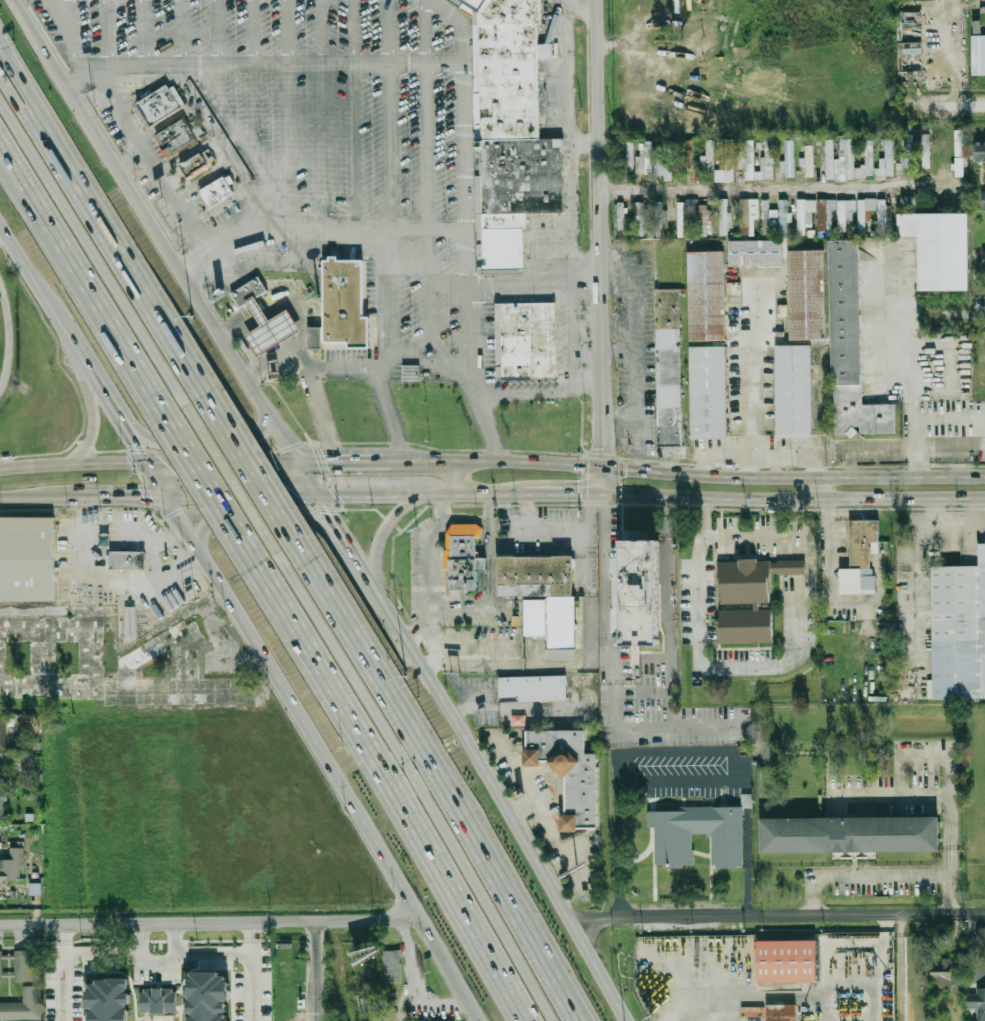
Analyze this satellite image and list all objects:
building: (924, 0)
building: (475, 4)
road: (577, 8)
building: (511, 12)
road: (33, 30)
road: (71, 32)
road: (144, 32)
road: (180, 32)
road: (108, 33)
road: (217, 51)
building: (978, 53)
road: (6, 55)
road: (6, 59)
road: (262, 63)
building: (509, 81)
road: (186, 89)
building: (160, 105)
road: (965, 105)
road: (254, 112)
road: (289, 112)
road: (323, 112)
road: (353, 113)
road: (225, 114)
building: (175, 137)
road: (586, 141)
building: (958, 143)
road: (219, 150)
building: (926, 151)
building: (980, 152)
building: (909, 155)
building: (630, 156)
building: (708, 157)
building: (890, 157)
building: (646, 159)
building: (788, 159)
building: (809, 160)
building: (689, 161)
building: (767, 161)
building: (846, 161)
building: (664, 163)
building: (726, 163)
building: (960, 165)
building: (193, 166)
road: (158, 173)
road: (427, 175)
road: (466, 175)
building: (522, 175)
road: (389, 178)
road: (237, 179)
road: (749, 190)
building: (216, 191)
road: (573, 191)
road: (588, 199)
building: (983, 200)
building: (915, 201)
building: (865, 210)
building: (825, 213)
building: (845, 213)
building: (660, 214)
building: (805, 214)
building: (620, 215)
building: (748, 215)
building: (882, 215)
building: (685, 216)
building: (724, 217)
building: (784, 217)
building: (640, 218)
building: (769, 218)
building: (704, 219)
road: (317, 225)
road: (599, 233)
road: (4, 239)
building: (503, 241)
road: (117, 246)
building: (939, 246)
building: (756, 251)
building: (984, 261)
road: (99, 262)
road: (185, 278)
road: (535, 281)
road: (86, 284)
building: (249, 291)
building: (706, 294)
building: (807, 294)
road: (48, 304)
building: (347, 304)
road: (962, 313)
road: (247, 318)
road: (617, 324)
building: (272, 329)
gas station: (272, 329)
road: (634, 336)
road: (6, 337)
building: (314, 337)
building: (526, 341)
road: (617, 347)
building: (852, 348)
road: (419, 349)
road: (272, 360)
building: (669, 366)
road: (912, 369)
road: (344, 370)
road: (751, 371)
building: (411, 374)
road: (312, 379)
building: (708, 390)
building: (795, 391)
road: (540, 395)
road: (111, 407)
road: (484, 414)
road: (394, 416)
road: (210, 438)
road: (87, 443)
road: (636, 443)
traffic signals: (134, 444)
road: (135, 447)
road: (884, 447)
traffic signals: (602, 448)
road: (583, 449)
road: (658, 453)
road: (717, 456)
road: (750, 456)
road: (793, 457)
road: (636, 458)
road: (223, 463)
traffic signals: (324, 463)
road: (343, 463)
road: (493, 463)
traffic signals: (165, 464)
road: (72, 465)
traffic signals: (627, 469)
road: (456, 478)
road: (793, 478)
road: (258, 479)
road: (154, 480)
road: (602, 480)
road: (207, 481)
road: (232, 481)
road: (618, 481)
road: (823, 489)
road: (423, 493)
road: (564, 493)
traffic signals: (579, 494)
road: (19, 497)
road: (101, 497)
traffic signals: (141, 497)
road: (242, 497)
traffic signals: (293, 497)
road: (793, 500)
road: (596, 502)
road: (480, 505)
road: (490, 507)
traffic signals: (592, 509)
road: (327, 511)
traffic signals: (328, 512)
road: (257, 518)
road: (793, 524)
road: (384, 525)
road: (952, 529)
road: (534, 531)
road: (723, 533)
parking lot: (557, 540)
road: (347, 545)
road: (581, 548)
building: (865, 551)
road: (426, 557)
building: (128, 559)
building: (28, 560)
road: (84, 563)
building: (464, 563)
road: (833, 565)
building: (790, 569)
road: (363, 572)
road: (919, 572)
building: (535, 574)
parking lot: (437, 580)
building: (747, 583)
road: (609, 586)
road: (483, 588)
building: (641, 593)
road: (492, 598)
building: (535, 618)
building: (562, 621)
building: (747, 627)
building: (958, 629)
road: (673, 662)
road: (715, 665)
building: (532, 688)
road: (709, 725)
building: (3, 733)
road: (475, 750)
road: (325, 756)
road: (932, 756)
building: (27, 760)
building: (571, 771)
building: (3, 774)
road: (412, 777)
road: (436, 778)
road: (385, 779)
road: (708, 779)
road: (931, 794)
building: (2, 806)
building: (851, 835)
building: (673, 848)
building: (584, 858)
building: (13, 864)
road: (882, 875)
road: (618, 892)
road: (802, 916)
road: (597, 919)
road: (211, 921)
road: (215, 950)
building: (6, 956)
building: (784, 960)
building: (23, 964)
building: (392, 966)
road: (899, 969)
road: (158, 970)
road: (314, 970)
road: (66, 971)
road: (254, 971)
road: (604, 973)
building: (6, 974)
building: (944, 976)
building: (0, 979)
building: (208, 996)
building: (108, 1000)
building: (157, 1000)
building: (979, 1002)
building: (23, 1004)
building: (780, 1012)
building: (421, 1020)

